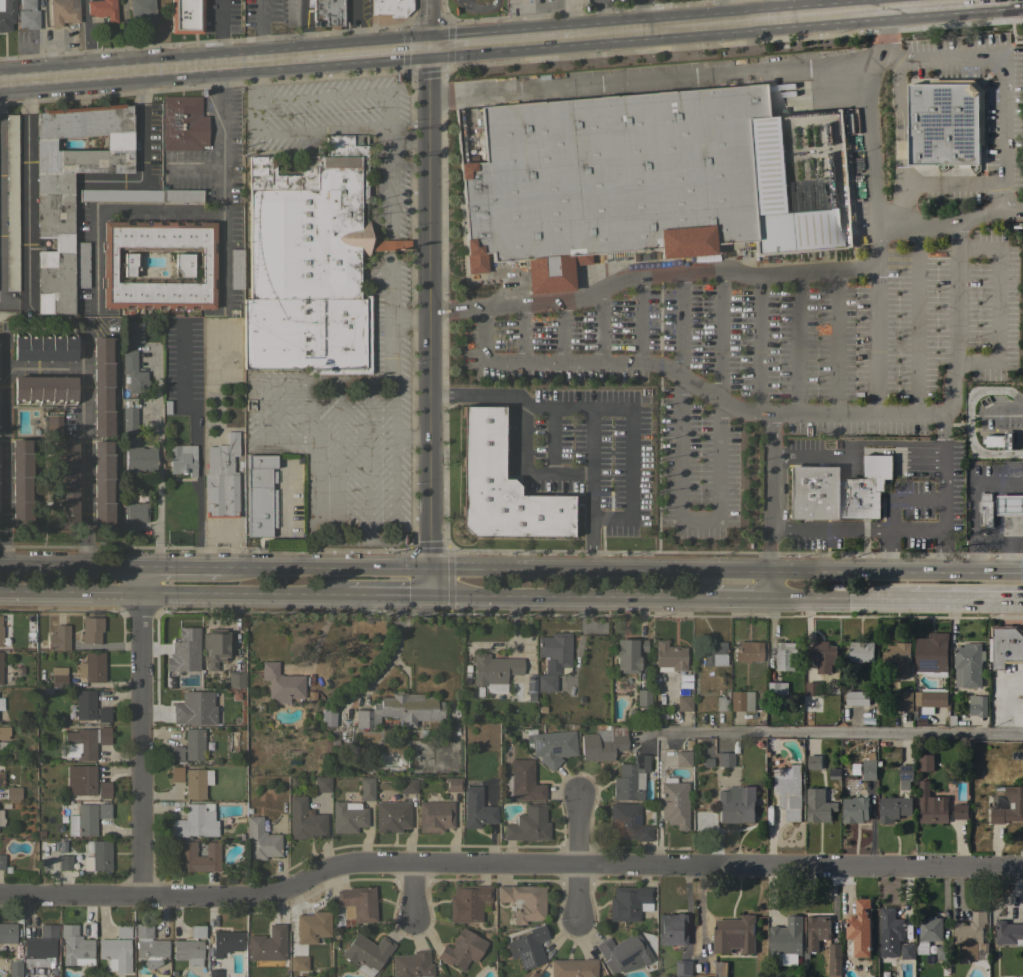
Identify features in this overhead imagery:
road: (890, 1)
road: (771, 5)
building: (390, 7)
road: (720, 7)
building: (102, 9)
building: (141, 9)
building: (62, 12)
building: (327, 12)
building: (7, 14)
building: (27, 14)
road: (719, 15)
building: (186, 16)
road: (356, 21)
road: (300, 23)
road: (263, 25)
road: (219, 27)
road: (500, 31)
traffic signals: (432, 36)
road: (366, 41)
road: (150, 59)
road: (1002, 73)
road: (255, 76)
road: (654, 79)
road: (391, 97)
road: (220, 112)
building: (183, 123)
building: (945, 123)
road: (307, 128)
road: (410, 142)
road: (901, 144)
road: (139, 151)
road: (193, 170)
building: (607, 179)
road: (954, 182)
road: (26, 186)
building: (70, 187)
building: (180, 194)
building: (118, 195)
building: (780, 200)
building: (11, 203)
road: (108, 211)
rooftop solar panel: (131, 222)
rooftop solar panel: (146, 222)
rooftop solar panel: (161, 223)
rooftop solar panel: (179, 223)
rooftop solar panel: (199, 223)
road: (950, 223)
road: (221, 235)
road: (389, 244)
building: (309, 262)
building: (81, 264)
building: (109, 264)
building: (236, 268)
road: (781, 274)
road: (430, 283)
road: (390, 284)
road: (13, 302)
road: (999, 307)
building: (9, 315)
road: (638, 318)
road: (410, 319)
road: (915, 321)
road: (678, 325)
road: (600, 326)
building: (132, 331)
road: (560, 331)
road: (521, 332)
parking lot: (388, 333)
road: (720, 336)
road: (876, 339)
road: (835, 342)
road: (798, 343)
road: (758, 344)
building: (44, 348)
road: (391, 350)
road: (955, 362)
road: (43, 369)
building: (133, 372)
road: (687, 382)
road: (326, 383)
building: (101, 386)
building: (44, 388)
road: (392, 390)
road: (473, 395)
road: (996, 406)
road: (1022, 406)
road: (313, 410)
road: (258, 411)
road: (286, 411)
building: (129, 415)
road: (632, 423)
building: (53, 424)
road: (411, 437)
road: (554, 440)
building: (992, 440)
road: (198, 441)
road: (84, 448)
road: (2, 449)
road: (901, 451)
road: (158, 453)
road: (974, 454)
road: (815, 455)
building: (139, 459)
building: (182, 459)
road: (367, 461)
road: (340, 462)
road: (590, 462)
road: (393, 464)
road: (524, 467)
road: (1012, 471)
building: (221, 478)
building: (21, 483)
building: (67, 484)
building: (102, 485)
road: (997, 485)
road: (314, 486)
building: (500, 486)
building: (837, 490)
building: (259, 494)
road: (900, 501)
road: (767, 505)
building: (997, 507)
road: (972, 514)
road: (945, 515)
building: (133, 516)
road: (685, 517)
road: (827, 529)
road: (384, 541)
road: (591, 543)
road: (989, 543)
road: (946, 550)
road: (888, 551)
road: (70, 564)
road: (148, 565)
road: (187, 565)
road: (324, 566)
traffic signals: (429, 567)
road: (726, 569)
road: (140, 581)
road: (428, 581)
road: (373, 594)
road: (70, 595)
road: (243, 595)
road: (414, 595)
traffic signals: (428, 595)
road: (570, 596)
road: (739, 599)
road: (836, 600)
road: (964, 601)
building: (0, 629)
building: (91, 629)
building: (58, 637)
building: (1005, 645)
building: (214, 646)
building: (183, 650)
road: (394, 650)
building: (748, 651)
building: (861, 651)
building: (555, 652)
building: (714, 653)
building: (628, 654)
building: (931, 654)
building: (785, 655)
building: (668, 656)
building: (822, 656)
building: (897, 657)
rooftop solar panel: (927, 663)
building: (0, 665)
building: (968, 665)
building: (91, 666)
building: (493, 668)
building: (58, 676)
building: (546, 682)
building: (281, 683)
building: (777, 688)
building: (812, 689)
building: (643, 697)
building: (857, 698)
building: (930, 699)
building: (741, 700)
building: (683, 701)
building: (905, 701)
building: (1, 703)
building: (721, 703)
building: (89, 706)
building: (977, 706)
building: (193, 708)
building: (400, 709)
building: (327, 717)
building: (4, 736)
road: (789, 740)
building: (85, 741)
building: (194, 743)
building: (602, 743)
road: (142, 744)
rooftop solar panel: (534, 746)
building: (552, 747)
rooftop solar panel: (553, 750)
building: (176, 752)
building: (682, 758)
building: (725, 759)
building: (813, 762)
building: (926, 762)
rooftop solar panel: (906, 768)
building: (869, 769)
building: (176, 774)
building: (905, 776)
building: (1, 778)
building: (631, 778)
rooftop solar panel: (906, 778)
building: (81, 780)
building: (197, 782)
building: (522, 782)
building: (322, 784)
building: (452, 784)
building: (407, 785)
building: (366, 788)
building: (103, 789)
building: (788, 790)
building: (12, 792)
building: (674, 803)
building: (736, 805)
building: (818, 805)
building: (931, 805)
building: (1009, 806)
building: (476, 809)
building: (855, 809)
building: (893, 809)
building: (961, 811)
building: (392, 815)
building: (434, 815)
building: (347, 816)
building: (1, 817)
building: (86, 818)
rooftop solar panel: (636, 818)
building: (304, 819)
building: (195, 821)
building: (627, 822)
building: (528, 824)
building: (260, 840)
building: (98, 856)
building: (196, 856)
road: (576, 859)
building: (1, 861)
building: (63, 861)
road: (508, 864)
road: (411, 887)
building: (524, 901)
building: (468, 902)
building: (628, 902)
building: (357, 903)
building: (312, 926)
building: (672, 929)
building: (48, 930)
building: (859, 930)
building: (122, 931)
building: (196, 931)
building: (817, 931)
building: (890, 932)
building: (928, 933)
building: (1008, 933)
building: (7, 934)
building: (734, 935)
building: (971, 938)
building: (786, 941)
building: (225, 942)
building: (267, 944)
building: (74, 945)
building: (149, 946)
building: (528, 946)
building: (461, 949)
building: (36, 950)
building: (188, 951)
building: (623, 951)
building: (908, 951)
building: (115, 953)
building: (366, 953)
building: (944, 953)
rooftop solar panel: (627, 958)
building: (834, 960)
building: (297, 963)
building: (411, 964)
building: (573, 967)
building: (14, 968)
building: (684, 968)
building: (720, 969)
building: (213, 973)

